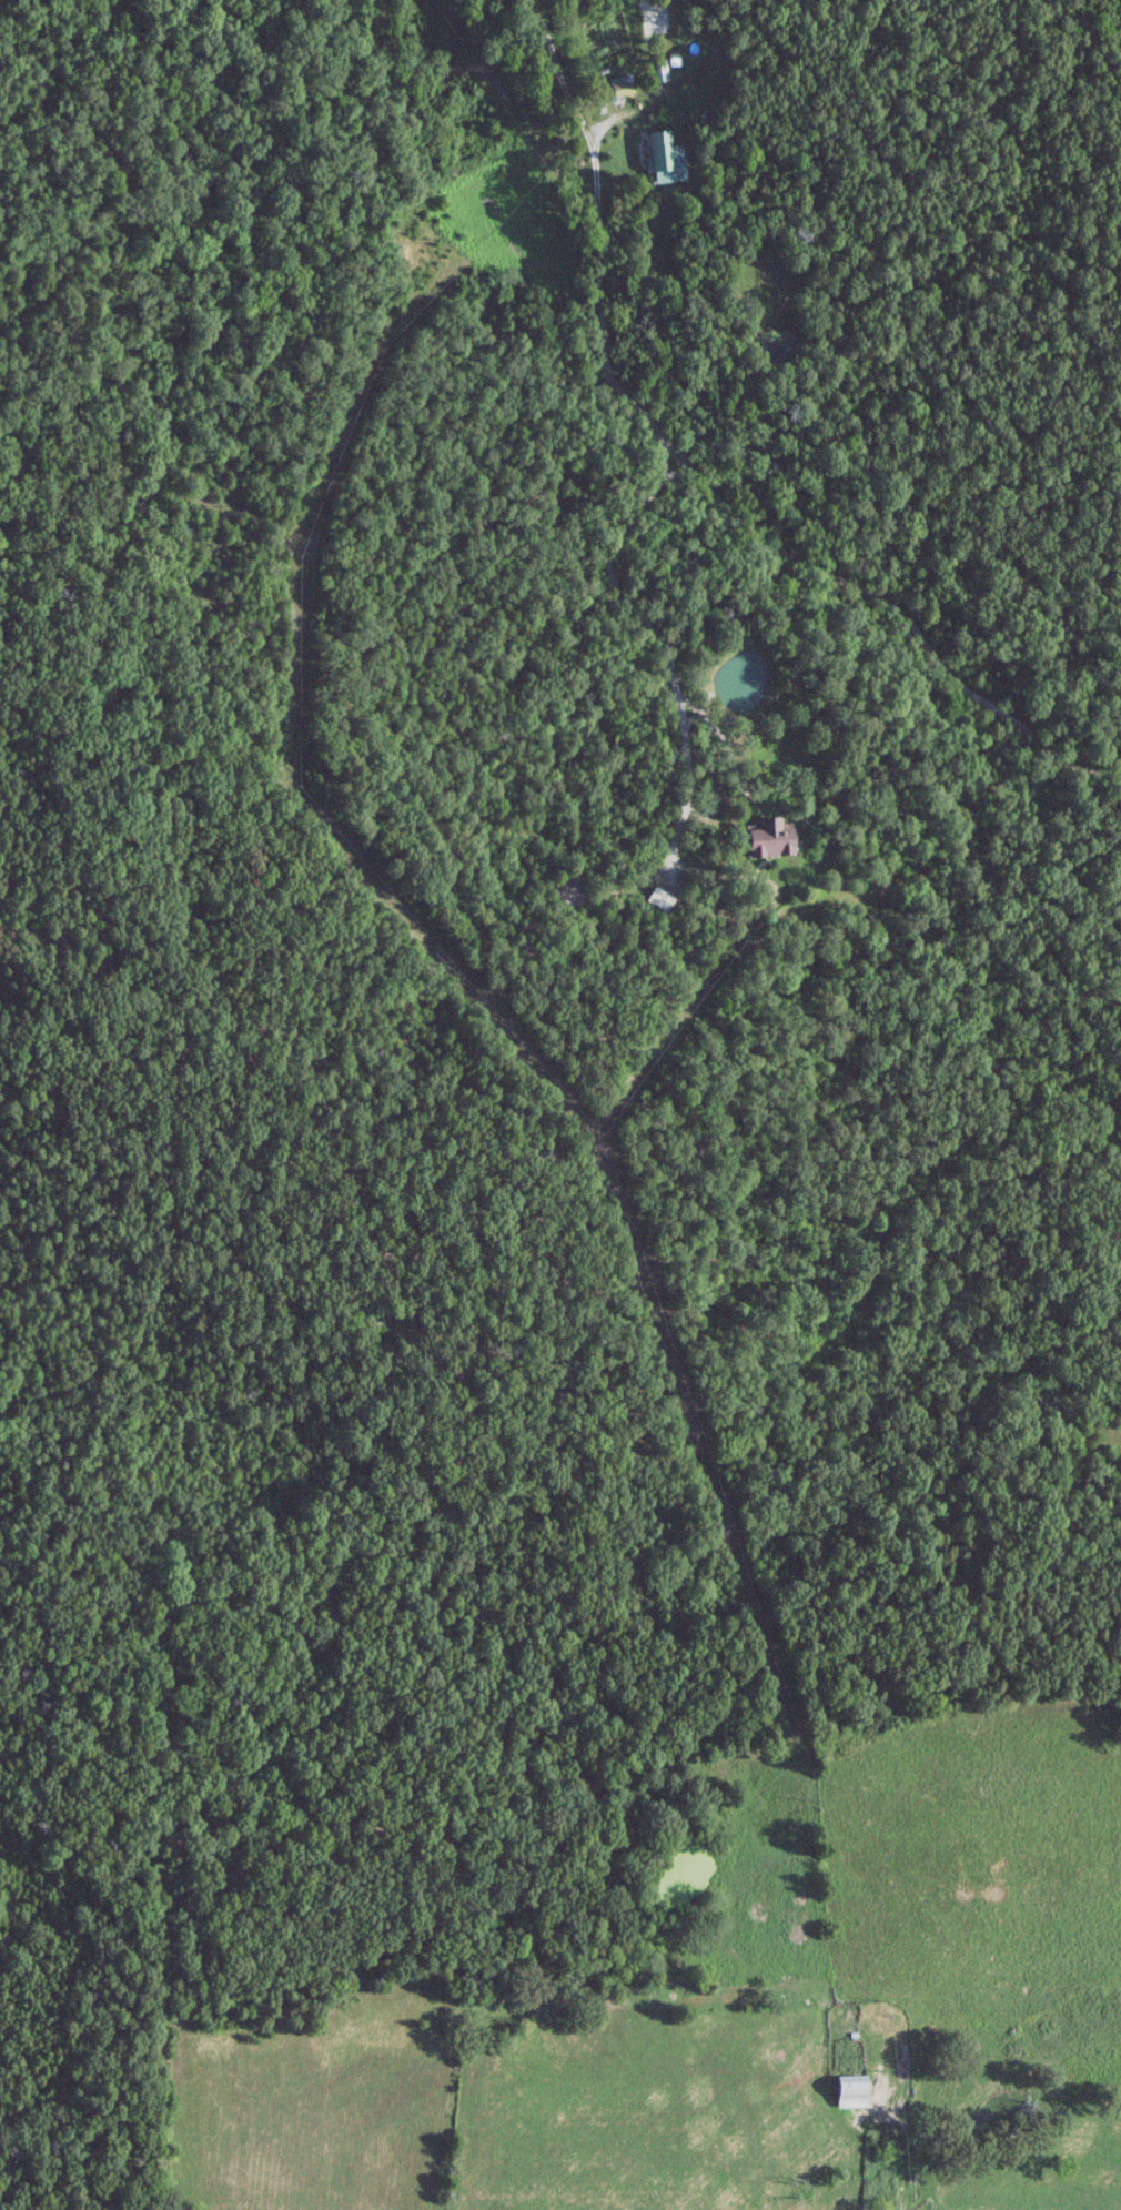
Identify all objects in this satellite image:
building: (657, 154)
road: (596, 190)
road: (866, 593)
building: (766, 838)
building: (659, 897)
building: (845, 2090)

